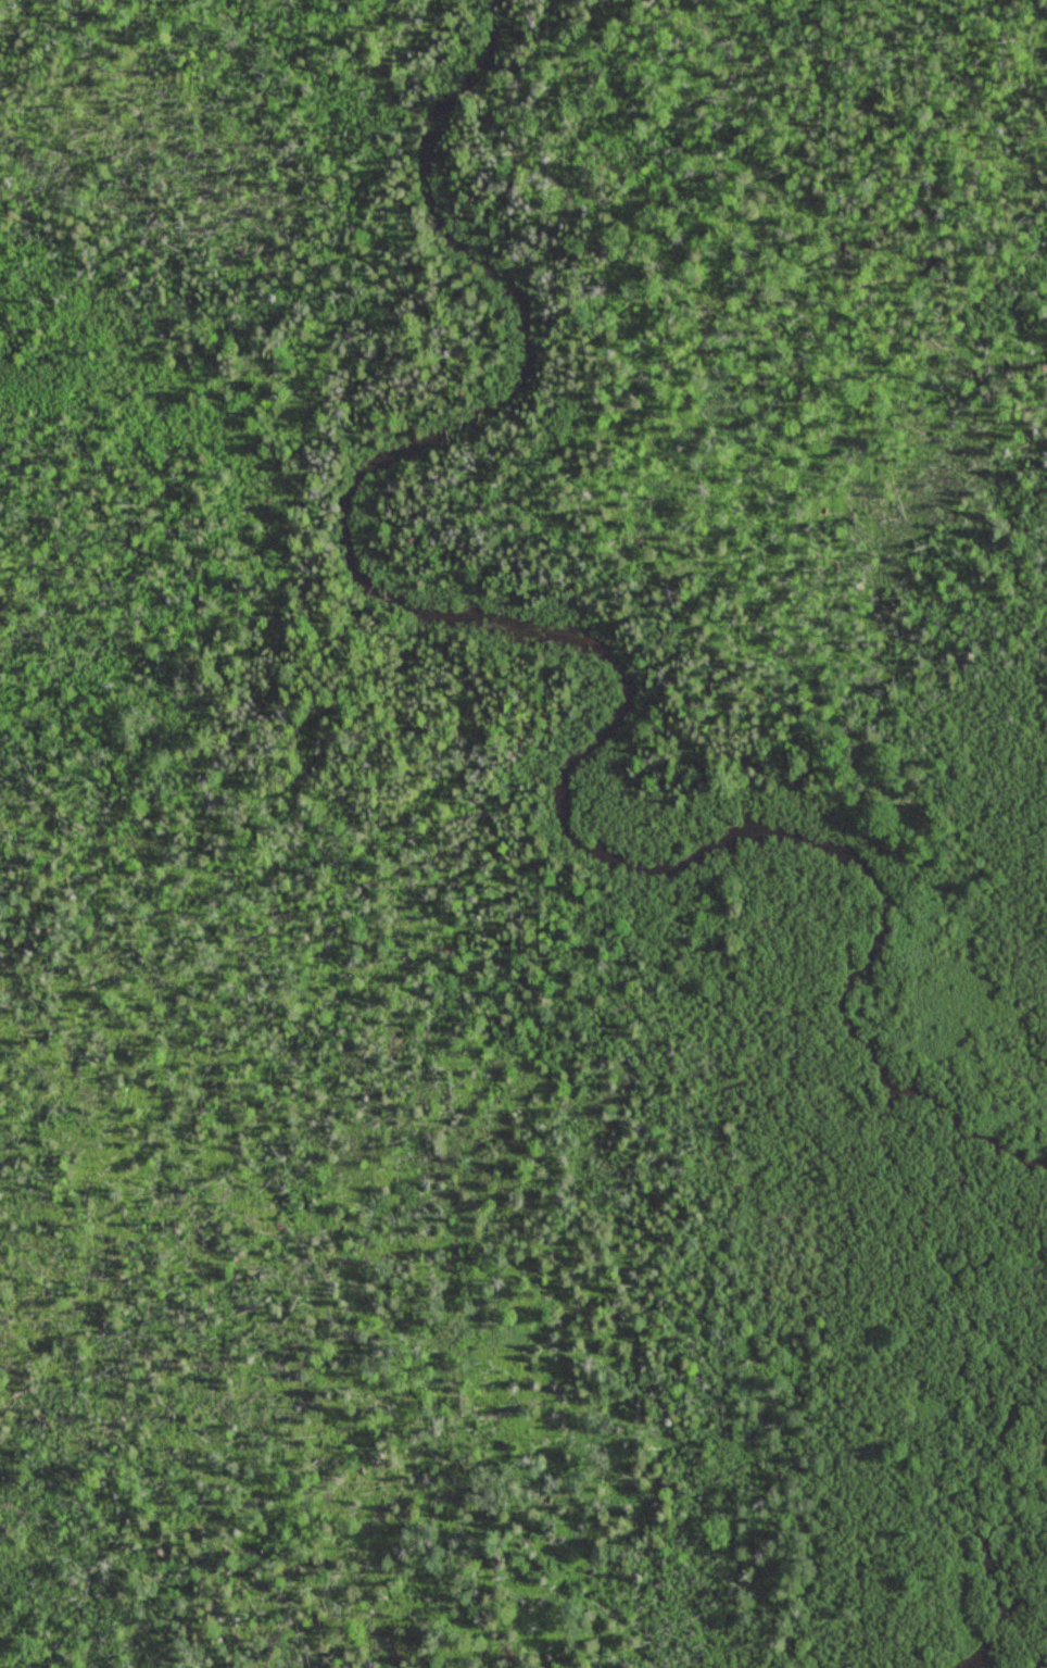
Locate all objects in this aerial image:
river: (595, 644)
river: (1002, 1620)

